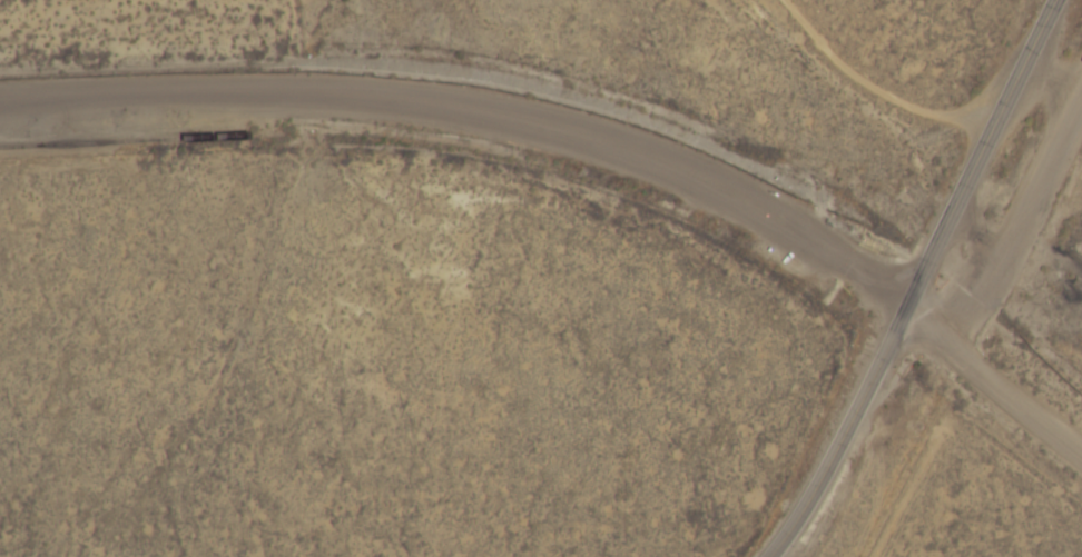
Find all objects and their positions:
road: (433, 115)
railway: (139, 140)
road: (986, 158)
road: (999, 374)
road: (849, 439)

